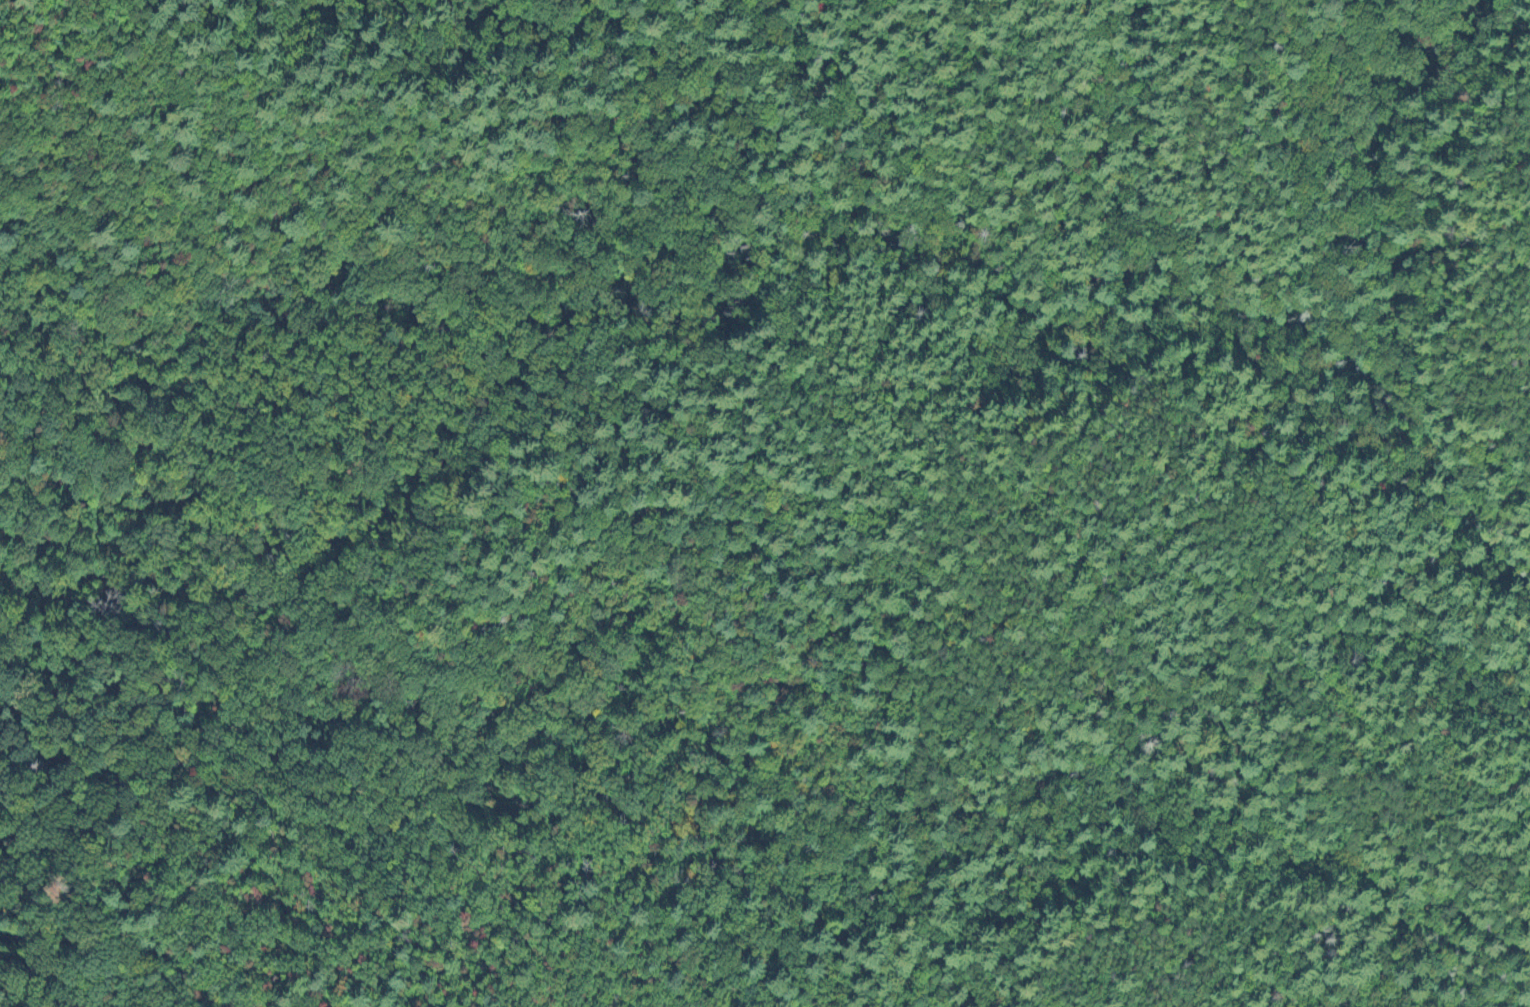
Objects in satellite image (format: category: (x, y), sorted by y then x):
road: (1427, 909)

